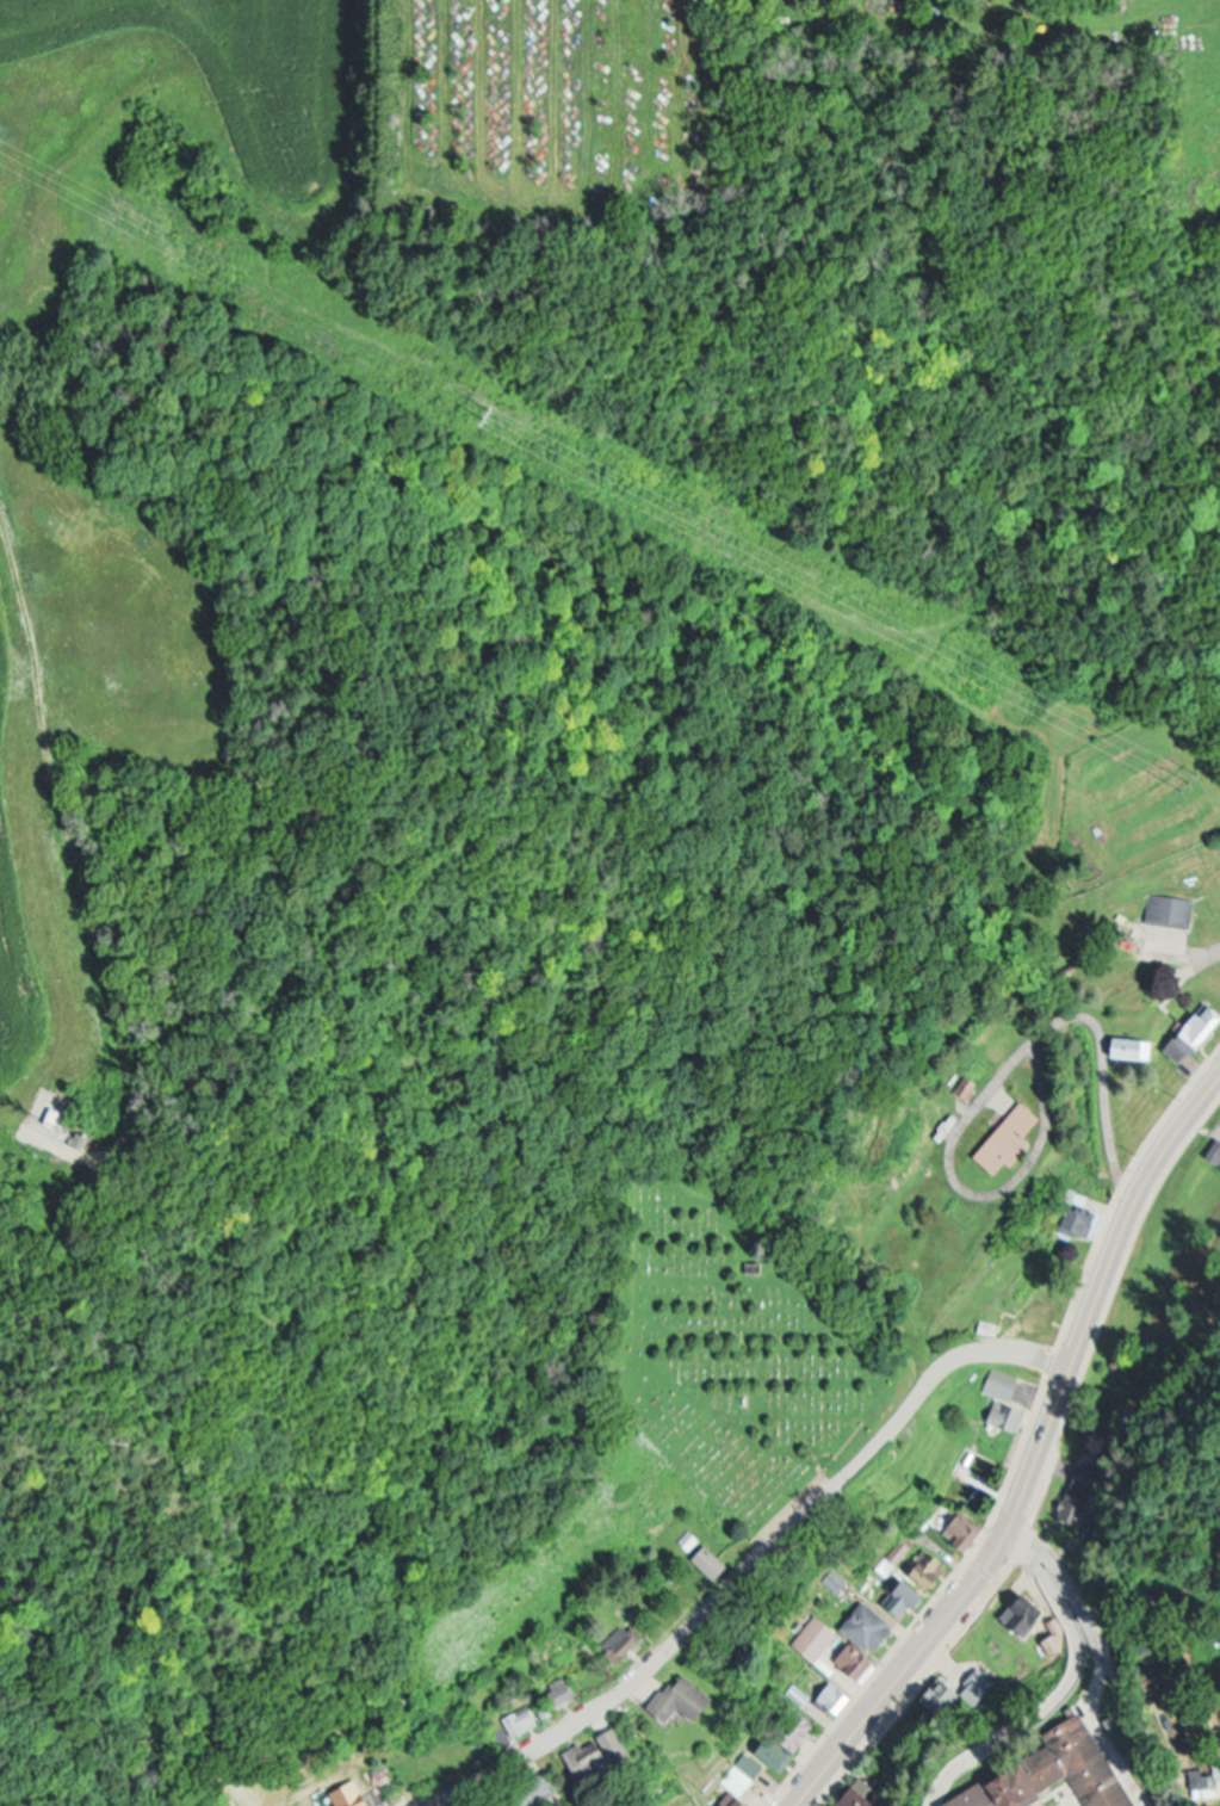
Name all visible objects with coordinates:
power tower: (506, 415)
power tower: (1194, 781)
road: (76, 870)
road: (1182, 955)
road: (991, 1082)
building: (86, 1137)
building: (64, 1188)
road: (1038, 1460)
road: (753, 1566)
building: (812, 1633)
road: (1094, 1672)
road: (1059, 1687)
building: (677, 1688)
road: (1117, 1690)
building: (594, 1763)
building: (1048, 1770)
building: (535, 1792)
building: (361, 1795)

